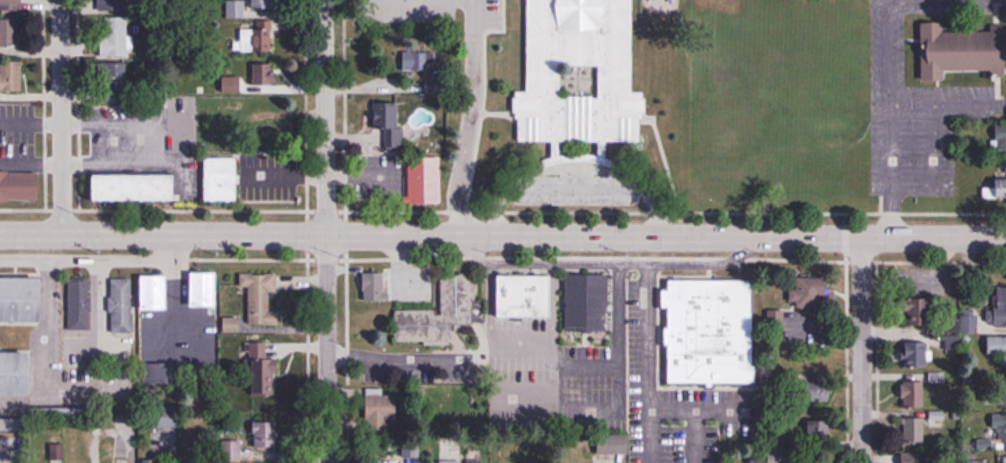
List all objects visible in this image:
building: (115, 4)
building: (262, 4)
building: (11, 5)
building: (235, 9)
building: (10, 34)
building: (113, 36)
building: (258, 38)
building: (961, 52)
building: (419, 61)
building: (576, 73)
building: (11, 75)
building: (269, 76)
road: (59, 116)
road: (469, 118)
building: (391, 125)
building: (1001, 136)
road: (576, 165)
building: (221, 178)
building: (424, 180)
building: (19, 185)
building: (1001, 185)
building: (135, 186)
road: (575, 186)
road: (325, 231)
road: (502, 236)
road: (101, 258)
road: (607, 264)
building: (374, 286)
building: (204, 289)
building: (155, 291)
building: (525, 296)
building: (806, 298)
building: (21, 299)
building: (261, 299)
road: (98, 303)
building: (587, 303)
building: (79, 304)
building: (121, 306)
building: (1000, 306)
road: (179, 310)
building: (921, 312)
building: (439, 314)
building: (969, 321)
building: (710, 332)
building: (997, 345)
road: (46, 349)
road: (862, 350)
building: (917, 355)
road: (565, 363)
road: (650, 363)
building: (263, 371)
building: (16, 373)
road: (85, 391)
building: (820, 391)
building: (913, 394)
building: (382, 409)
road: (697, 413)
building: (12, 424)
building: (1000, 426)
building: (819, 427)
building: (915, 430)
building: (266, 434)
building: (609, 448)
road: (5, 453)
building: (913, 457)
building: (1004, 459)

